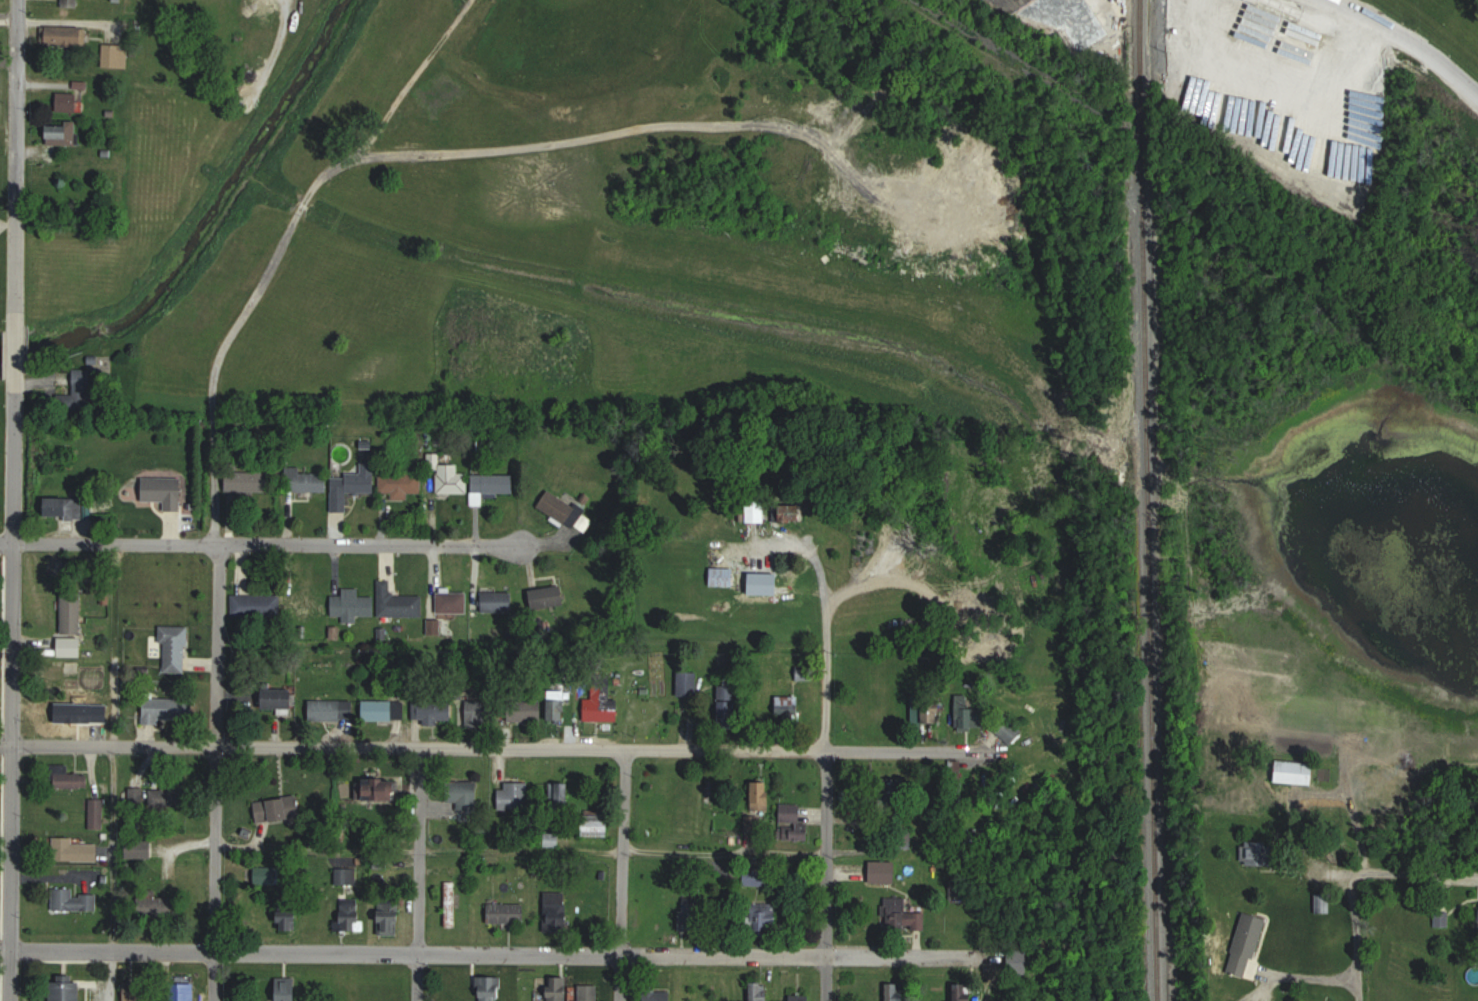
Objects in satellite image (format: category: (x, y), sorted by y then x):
building: (67, 35)
road: (1405, 46)
building: (115, 57)
road: (409, 78)
building: (704, 93)
building: (68, 103)
building: (63, 134)
road: (391, 153)
road: (17, 163)
road: (16, 347)
building: (307, 480)
building: (248, 482)
building: (474, 483)
building: (401, 485)
building: (353, 486)
building: (165, 492)
railway: (1150, 500)
building: (59, 507)
building: (557, 507)
building: (757, 511)
road: (261, 543)
building: (0, 575)
building: (723, 576)
road: (433, 580)
building: (547, 598)
building: (487, 601)
building: (398, 603)
building: (452, 603)
building: (307, 605)
building: (352, 605)
building: (255, 606)
building: (72, 612)
road: (819, 639)
building: (175, 649)
road: (10, 683)
building: (688, 685)
building: (277, 699)
building: (728, 705)
building: (558, 706)
building: (602, 706)
building: (788, 708)
building: (168, 710)
building: (384, 710)
building: (527, 710)
building: (331, 711)
building: (433, 711)
building: (81, 712)
building: (484, 712)
building: (969, 713)
building: (1009, 730)
road: (490, 747)
road: (215, 772)
building: (1294, 772)
building: (69, 779)
building: (379, 790)
building: (559, 793)
building: (761, 794)
building: (514, 795)
building: (167, 797)
building: (468, 801)
building: (271, 811)
building: (790, 813)
building: (98, 816)
building: (599, 826)
building: (140, 848)
road: (316, 849)
road: (621, 850)
building: (74, 851)
road: (1412, 870)
building: (346, 871)
building: (884, 871)
road: (114, 873)
road: (417, 874)
road: (623, 875)
road: (826, 876)
building: (757, 878)
building: (74, 901)
building: (451, 904)
building: (160, 907)
building: (290, 908)
building: (557, 910)
building: (507, 913)
building: (391, 915)
building: (692, 915)
building: (904, 915)
building: (351, 916)
building: (764, 918)
building: (1247, 944)
road: (486, 953)
road: (1350, 965)
building: (184, 988)
building: (492, 990)
building: (66, 991)
building: (135, 991)
building: (288, 991)
building: (895, 992)
building: (756, 994)
building: (557, 996)
building: (657, 996)
building: (589, 997)
building: (795, 997)
building: (965, 1000)

